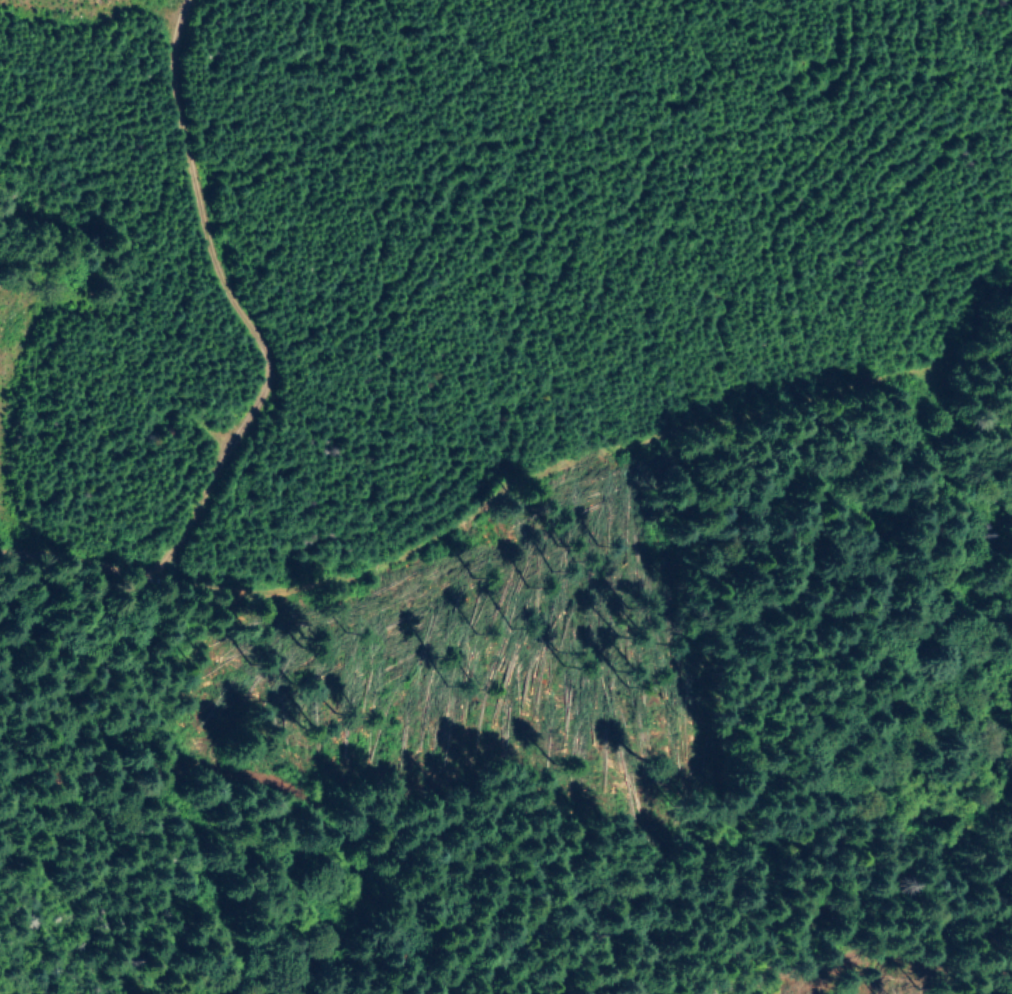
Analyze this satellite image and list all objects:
road: (257, 299)
road: (397, 586)
road: (291, 793)
road: (921, 957)

